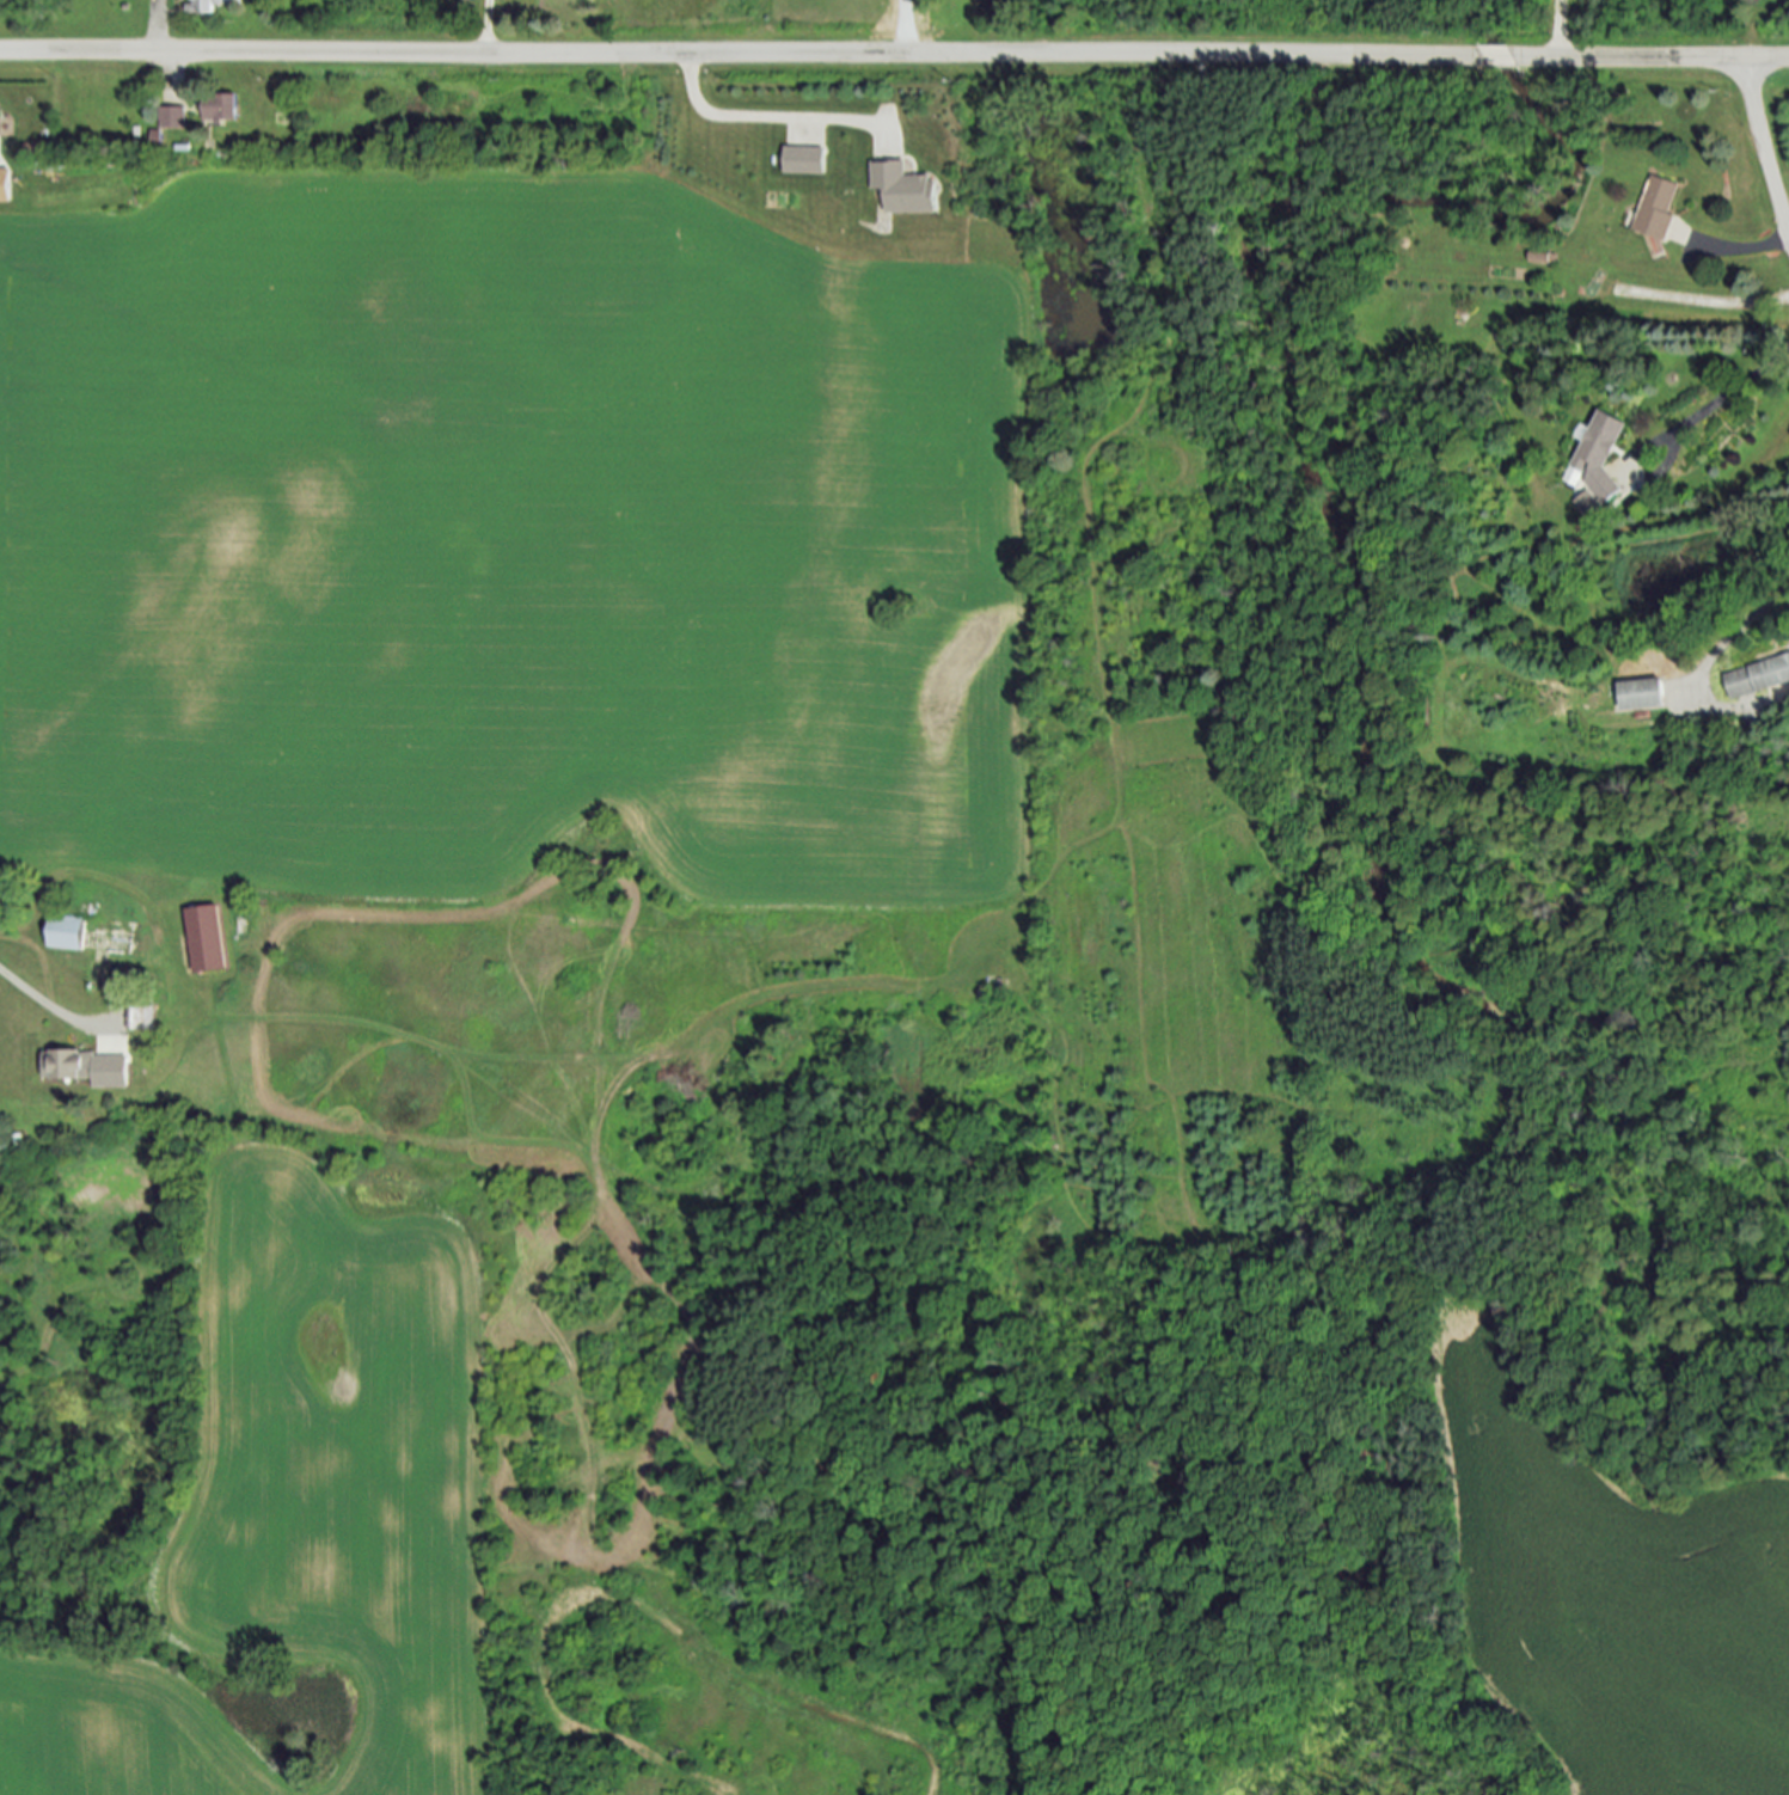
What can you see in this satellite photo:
building: (209, 6)
road: (488, 26)
road: (923, 26)
road: (1560, 29)
road: (894, 51)
building: (218, 108)
building: (171, 118)
road: (755, 121)
building: (155, 136)
road: (1762, 154)
building: (801, 161)
building: (5, 184)
building: (901, 190)
building: (1654, 209)
road: (1745, 245)
road: (1720, 400)
building: (1593, 466)
road: (1733, 631)
building: (1758, 676)
building: (1643, 693)
building: (65, 932)
building: (206, 939)
road: (50, 1006)
building: (142, 1015)
building: (90, 1067)

